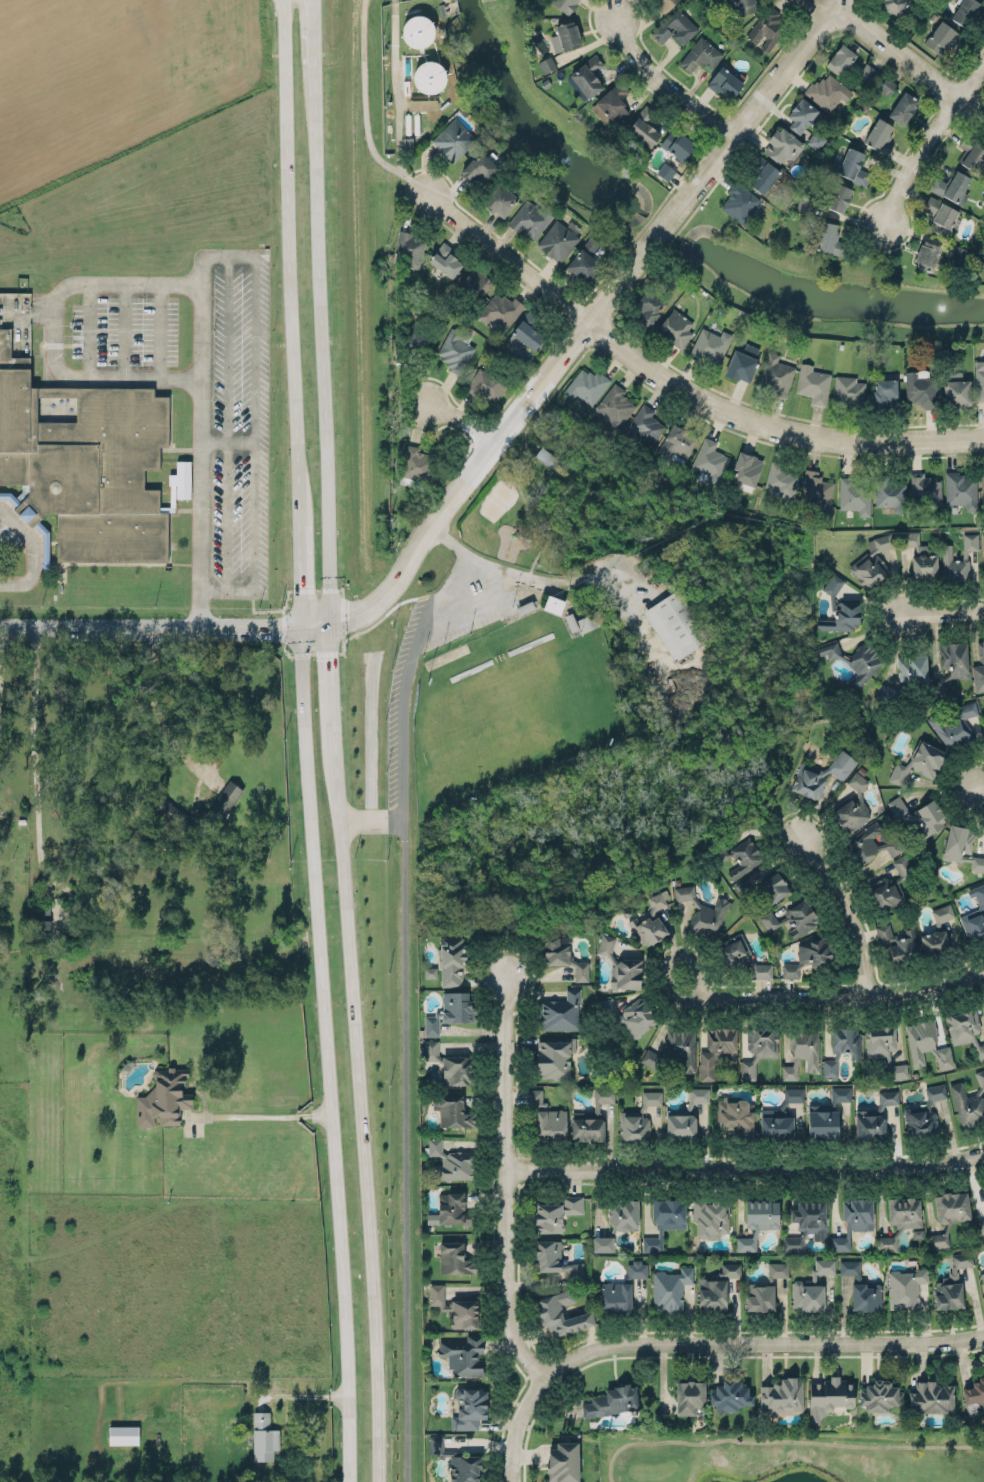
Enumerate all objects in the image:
building: (665, 3)
building: (564, 5)
building: (745, 6)
building: (895, 6)
road: (815, 7)
building: (967, 11)
building: (677, 27)
building: (767, 28)
road: (314, 31)
building: (417, 31)
building: (565, 37)
building: (944, 38)
building: (700, 55)
building: (841, 59)
road: (909, 59)
building: (546, 64)
building: (867, 73)
building: (429, 76)
building: (589, 76)
building: (725, 81)
road: (665, 83)
building: (887, 86)
building: (827, 92)
building: (611, 103)
building: (422, 104)
building: (904, 107)
road: (366, 110)
building: (803, 115)
building: (645, 126)
building: (879, 135)
building: (454, 139)
road: (924, 141)
building: (678, 144)
building: (783, 145)
building: (972, 155)
building: (476, 164)
building: (853, 165)
building: (665, 171)
building: (762, 173)
building: (953, 187)
building: (838, 197)
building: (499, 200)
building: (740, 203)
building: (940, 215)
building: (531, 218)
building: (828, 237)
building: (558, 239)
building: (409, 248)
building: (927, 255)
road: (235, 257)
building: (445, 260)
building: (585, 260)
road: (290, 261)
building: (476, 284)
building: (647, 307)
road: (268, 308)
building: (501, 309)
road: (588, 320)
building: (675, 328)
building: (525, 331)
road: (54, 333)
building: (419, 338)
road: (324, 344)
building: (710, 344)
building: (455, 350)
building: (742, 363)
building: (776, 375)
building: (979, 379)
building: (486, 383)
building: (812, 383)
building: (586, 385)
road: (678, 385)
building: (920, 388)
building: (847, 390)
building: (956, 392)
building: (884, 394)
building: (612, 408)
road: (461, 418)
building: (645, 424)
building: (678, 441)
building: (546, 457)
building: (709, 462)
building: (82, 463)
building: (415, 463)
building: (746, 464)
building: (781, 479)
building: (925, 488)
building: (960, 489)
building: (817, 490)
building: (888, 492)
building: (853, 495)
park: (497, 502)
road: (531, 509)
building: (970, 541)
building: (911, 542)
road: (456, 545)
road: (32, 552)
building: (983, 553)
building: (872, 560)
building: (924, 565)
building: (953, 566)
road: (467, 571)
road: (300, 575)
road: (607, 581)
building: (832, 584)
road: (439, 593)
building: (553, 604)
road: (942, 611)
building: (841, 617)
building: (588, 622)
building: (571, 623)
building: (675, 625)
road: (165, 629)
park: (534, 639)
road: (407, 658)
building: (954, 659)
building: (856, 661)
building: (979, 668)
building: (911, 669)
road: (332, 671)
building: (940, 686)
building: (888, 695)
road: (303, 696)
road: (154, 697)
park: (517, 721)
building: (955, 725)
road: (33, 752)
building: (918, 762)
building: (822, 773)
road: (977, 786)
building: (852, 805)
building: (195, 806)
building: (919, 815)
road: (369, 819)
building: (961, 844)
building: (869, 845)
building: (738, 856)
building: (890, 885)
building: (764, 887)
road: (853, 907)
building: (702, 909)
building: (942, 913)
building: (974, 916)
building: (41, 917)
building: (649, 919)
building: (791, 919)
building: (934, 942)
building: (897, 944)
building: (606, 945)
building: (562, 953)
building: (808, 957)
building: (741, 958)
building: (451, 959)
road: (669, 961)
building: (625, 971)
building: (429, 972)
road: (842, 995)
building: (450, 1006)
building: (559, 1010)
building: (627, 1014)
building: (964, 1027)
building: (920, 1040)
building: (883, 1046)
building: (758, 1047)
building: (675, 1049)
building: (430, 1050)
building: (716, 1050)
building: (801, 1050)
building: (553, 1055)
building: (943, 1057)
building: (456, 1070)
building: (793, 1094)
building: (840, 1094)
building: (163, 1097)
building: (534, 1097)
road: (360, 1099)
building: (969, 1101)
building: (451, 1109)
building: (924, 1113)
road: (265, 1115)
building: (685, 1116)
building: (734, 1116)
building: (590, 1117)
building: (873, 1117)
building: (637, 1119)
building: (822, 1120)
building: (551, 1122)
road: (330, 1123)
building: (775, 1124)
road: (403, 1146)
building: (434, 1146)
building: (455, 1165)
road: (745, 1167)
road: (505, 1181)
building: (983, 1183)
building: (983, 1188)
building: (949, 1203)
building: (902, 1206)
building: (447, 1208)
building: (665, 1208)
building: (760, 1212)
building: (554, 1213)
building: (623, 1215)
building: (709, 1217)
building: (810, 1218)
building: (853, 1219)
building: (981, 1226)
building: (916, 1233)
building: (937, 1236)
building: (888, 1240)
building: (602, 1244)
building: (652, 1244)
building: (744, 1244)
building: (792, 1244)
building: (548, 1254)
building: (453, 1257)
building: (636, 1269)
building: (777, 1269)
building: (729, 1270)
building: (576, 1272)
building: (982, 1277)
building: (951, 1283)
building: (861, 1287)
building: (669, 1288)
building: (811, 1288)
building: (904, 1288)
building: (616, 1294)
building: (712, 1294)
building: (437, 1295)
building: (759, 1297)
building: (463, 1312)
building: (560, 1314)
road: (761, 1341)
building: (464, 1353)
building: (727, 1389)
building: (974, 1391)
building: (829, 1394)
building: (879, 1394)
building: (931, 1395)
building: (688, 1396)
building: (781, 1396)
building: (612, 1401)
building: (469, 1408)
road: (523, 1412)
building: (123, 1434)
building: (263, 1437)
road: (781, 1440)
park: (791, 1455)
building: (456, 1459)
building: (562, 1460)
road: (512, 1469)

